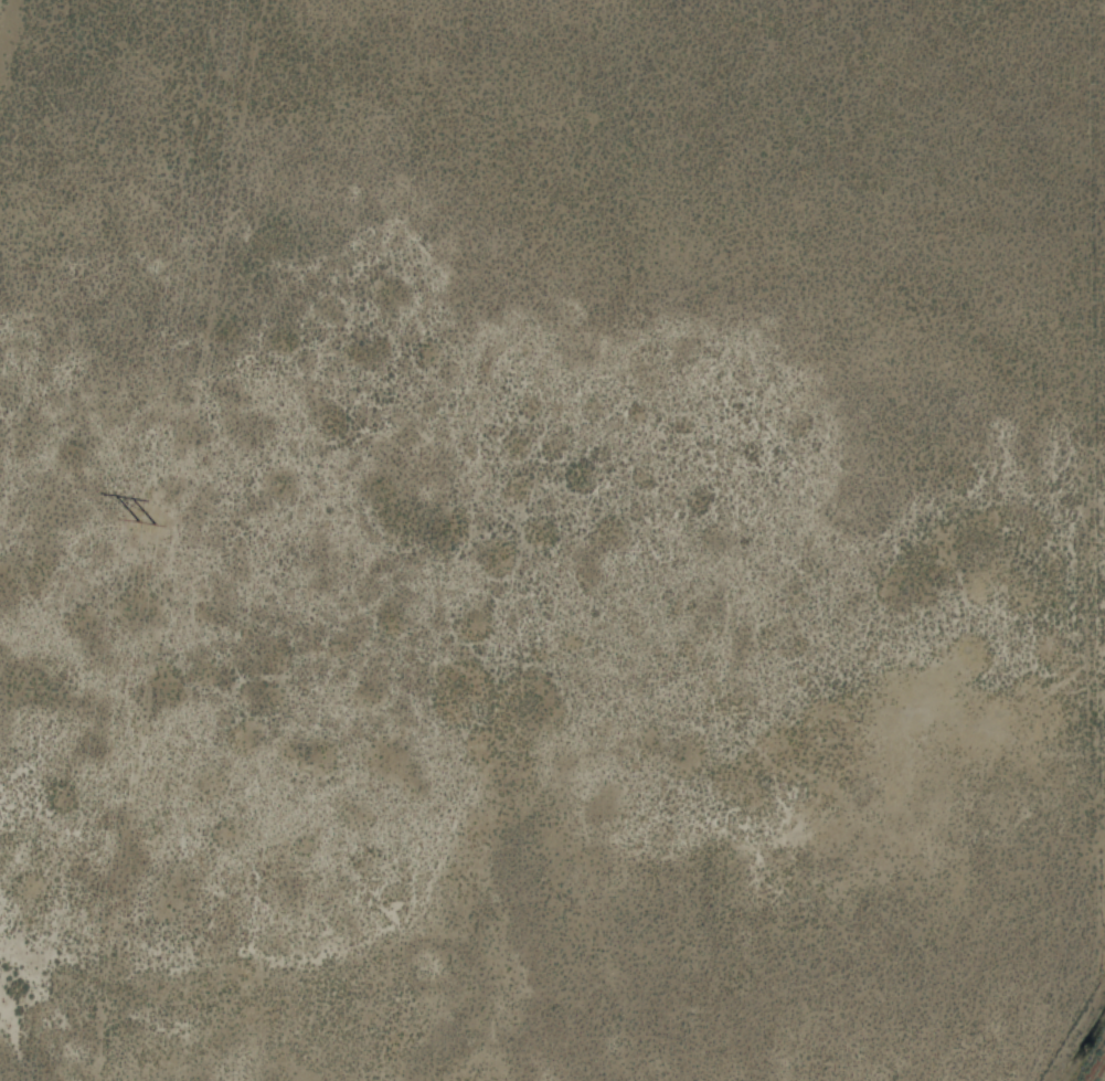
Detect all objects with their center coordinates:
power tower: (142, 524)

